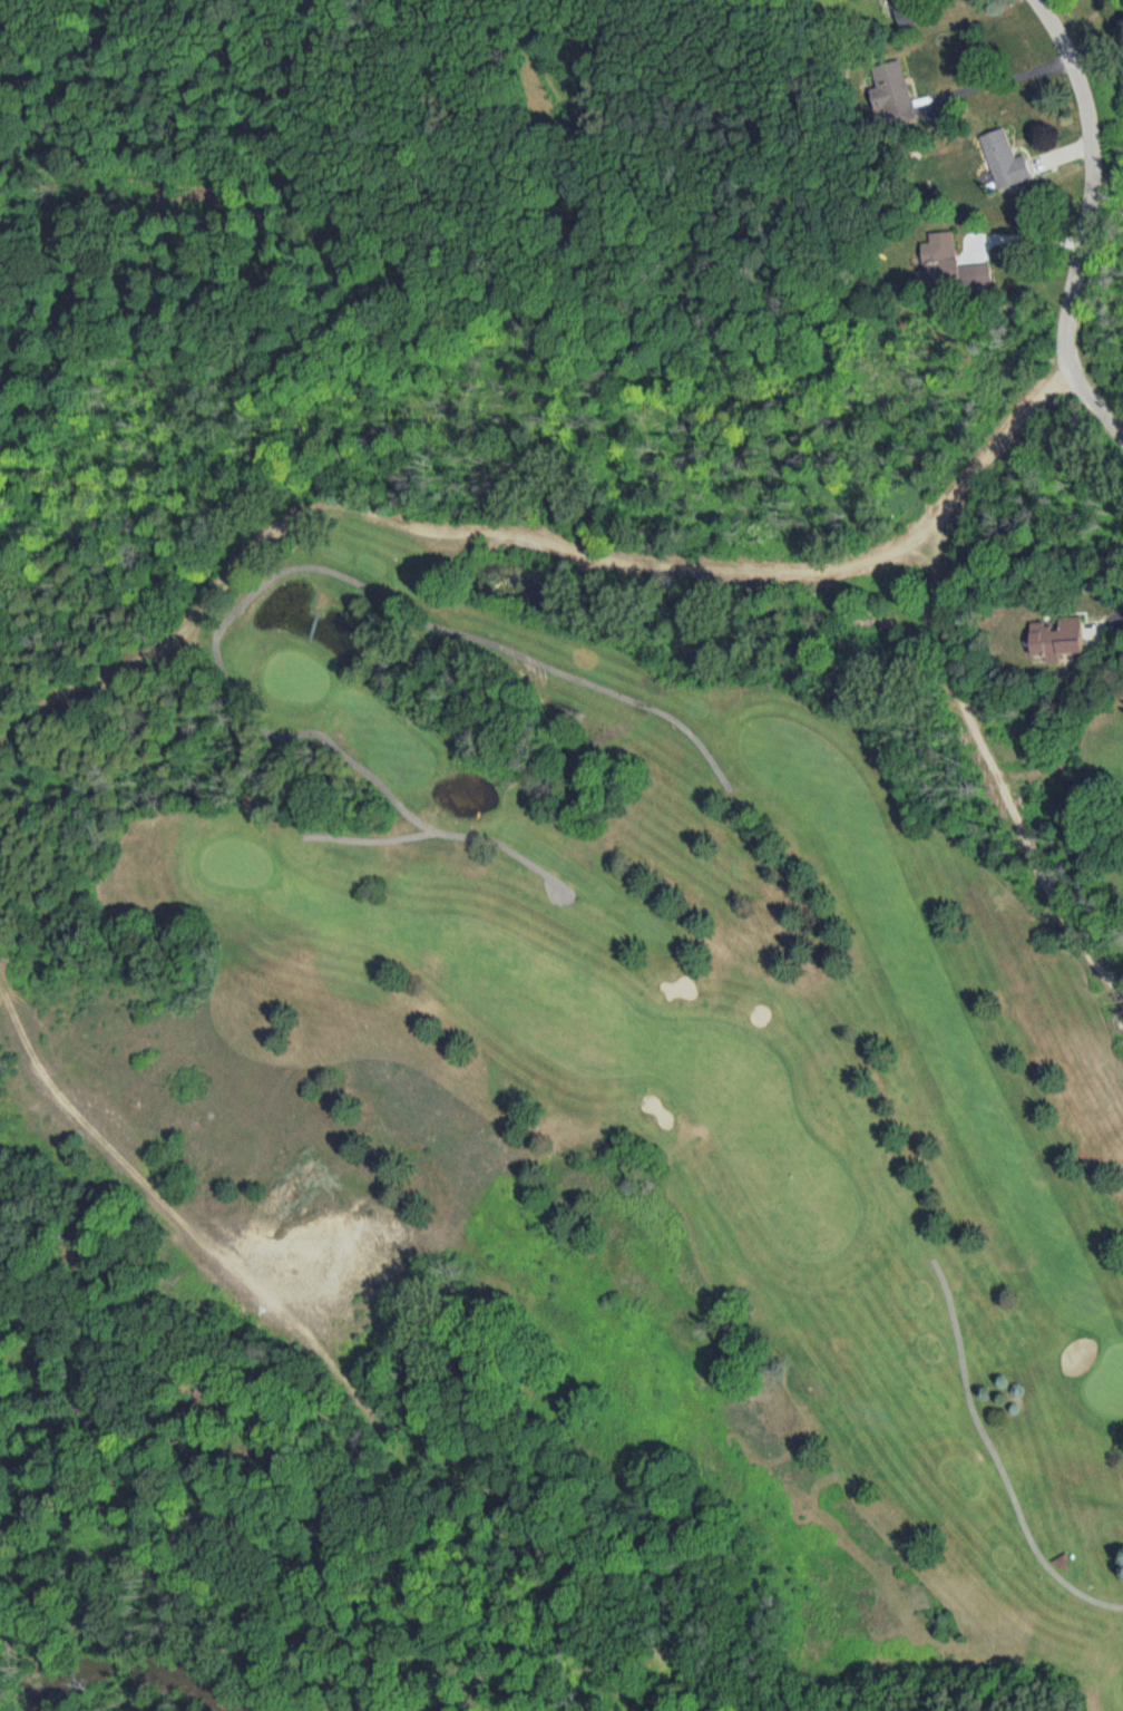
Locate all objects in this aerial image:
building: (905, 8)
road: (1000, 72)
building: (892, 86)
building: (1003, 150)
road: (1086, 222)
building: (948, 257)
road: (534, 533)
building: (1051, 630)
park: (704, 1028)
road: (118, 1154)

